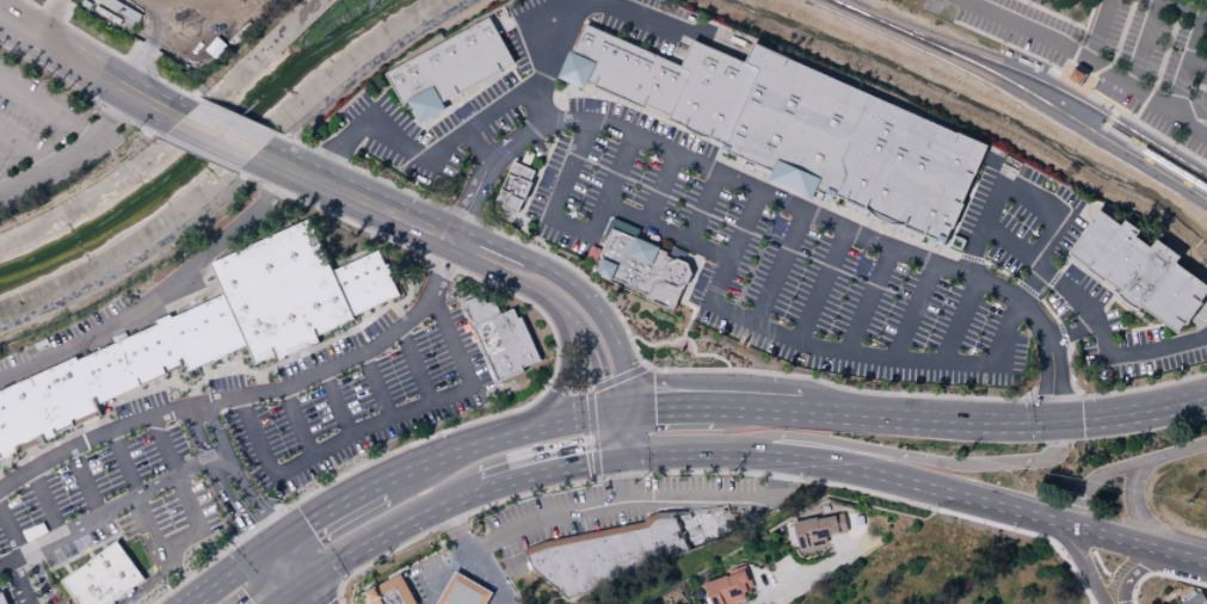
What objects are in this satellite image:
railway: (840, 6)
road: (1180, 8)
road: (1052, 14)
road: (49, 19)
road: (675, 23)
road: (1096, 30)
road: (1079, 41)
road: (1117, 43)
road: (1143, 43)
road: (109, 50)
parking lot: (1117, 53)
road: (140, 55)
road: (1187, 60)
road: (1089, 61)
road: (1197, 61)
building: (450, 62)
road: (87, 67)
road: (1159, 67)
building: (573, 68)
building: (629, 69)
road: (1090, 74)
building: (1076, 76)
railway: (1036, 80)
road: (1201, 87)
road: (78, 90)
building: (710, 90)
road: (467, 95)
railway: (1034, 99)
road: (536, 100)
building: (423, 103)
road: (1189, 106)
road: (45, 109)
road: (238, 116)
road: (1133, 123)
road: (1108, 129)
road: (217, 135)
parking lot: (43, 137)
road: (454, 137)
road: (479, 142)
road: (492, 143)
railway: (1126, 143)
building: (855, 144)
road: (70, 148)
road: (24, 149)
road: (197, 154)
road: (491, 154)
road: (615, 168)
road: (242, 174)
building: (793, 178)
road: (534, 183)
road: (1, 186)
road: (659, 187)
building: (515, 189)
building: (829, 192)
road: (356, 197)
road: (1034, 204)
road: (701, 205)
road: (962, 210)
road: (840, 214)
road: (743, 223)
road: (1158, 234)
building: (940, 239)
road: (488, 242)
road: (863, 247)
road: (672, 252)
road: (776, 265)
road: (751, 267)
building: (642, 269)
building: (1139, 270)
parking lot: (1139, 270)
parking lot: (780, 271)
road: (1085, 271)
road: (1053, 277)
building: (365, 282)
road: (820, 283)
road: (1029, 285)
road: (159, 289)
building: (282, 292)
road: (868, 297)
road: (1074, 298)
road: (712, 302)
road: (558, 306)
road: (912, 308)
road: (1202, 312)
road: (399, 314)
road: (959, 318)
road: (599, 319)
road: (1199, 322)
road: (1145, 327)
road: (1069, 331)
road: (554, 333)
road: (684, 333)
building: (500, 337)
road: (686, 339)
road: (648, 345)
road: (714, 356)
road: (415, 364)
road: (704, 370)
building: (110, 374)
road: (201, 378)
road: (559, 380)
road: (376, 384)
road: (599, 386)
road: (1051, 386)
road: (335, 401)
parking lot: (363, 405)
road: (673, 408)
road: (759, 408)
traffic signals: (630, 413)
road: (1129, 413)
road: (620, 414)
traffic signals: (609, 415)
road: (926, 420)
road: (296, 421)
road: (376, 421)
road: (641, 421)
traffic signals: (1053, 424)
road: (590, 434)
road: (624, 434)
road: (614, 436)
road: (492, 442)
road: (1054, 449)
road: (883, 452)
traffic signals: (618, 456)
road: (850, 462)
road: (548, 467)
road: (1125, 467)
road: (238, 476)
road: (618, 479)
road: (82, 481)
road: (217, 485)
road: (560, 486)
road: (641, 500)
road: (45, 501)
parking lot: (107, 501)
road: (112, 507)
road: (333, 513)
road: (1144, 513)
road: (392, 526)
road: (257, 528)
road: (11, 529)
building: (818, 530)
road: (458, 532)
road: (175, 540)
traffic signals: (284, 542)
road: (1141, 546)
road: (276, 548)
building: (623, 548)
road: (308, 549)
traffic signals: (269, 554)
road: (1151, 563)
road: (826, 566)
road: (1086, 566)
road: (304, 571)
road: (196, 572)
road: (255, 573)
road: (1159, 574)
road: (41, 577)
road: (173, 577)
building: (104, 578)
road: (154, 578)
road: (284, 578)
road: (232, 579)
traffic signals: (310, 579)
road: (18, 583)
road: (301, 585)
road: (338, 587)
building: (727, 587)
traffic signals: (292, 591)
building: (464, 591)
building: (390, 592)
road: (325, 594)
road: (283, 597)
building: (1191, 598)
building: (2, 599)
road: (24, 603)

